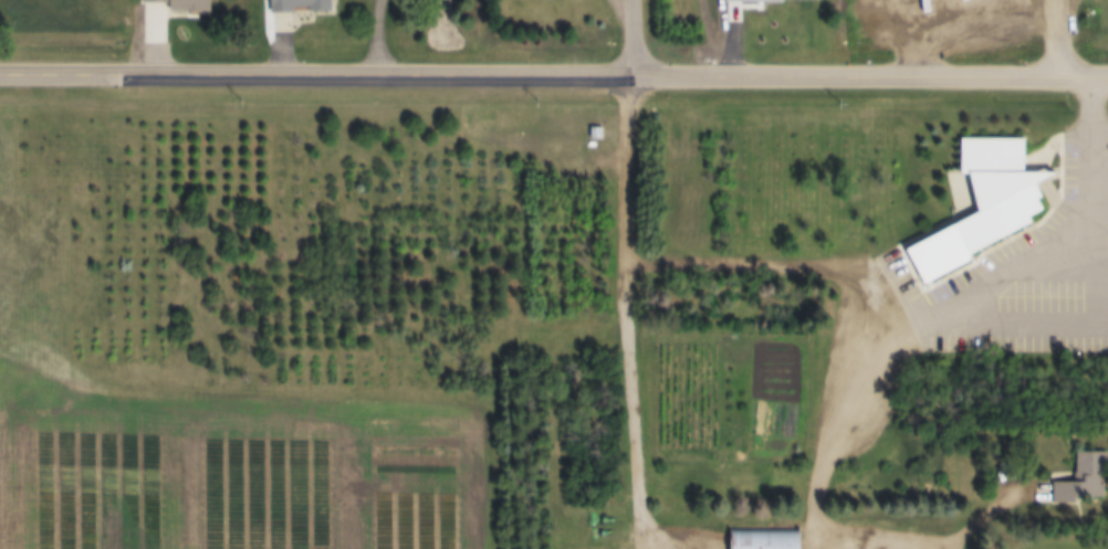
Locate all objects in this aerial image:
building: (180, 6)
building: (299, 7)
building: (733, 13)
road: (383, 35)
road: (627, 35)
road: (923, 35)
road: (1060, 36)
road: (554, 71)
building: (976, 207)
road: (1099, 218)
road: (797, 263)
road: (621, 314)
road: (870, 389)
building: (1083, 479)
road: (877, 535)
building: (763, 539)

